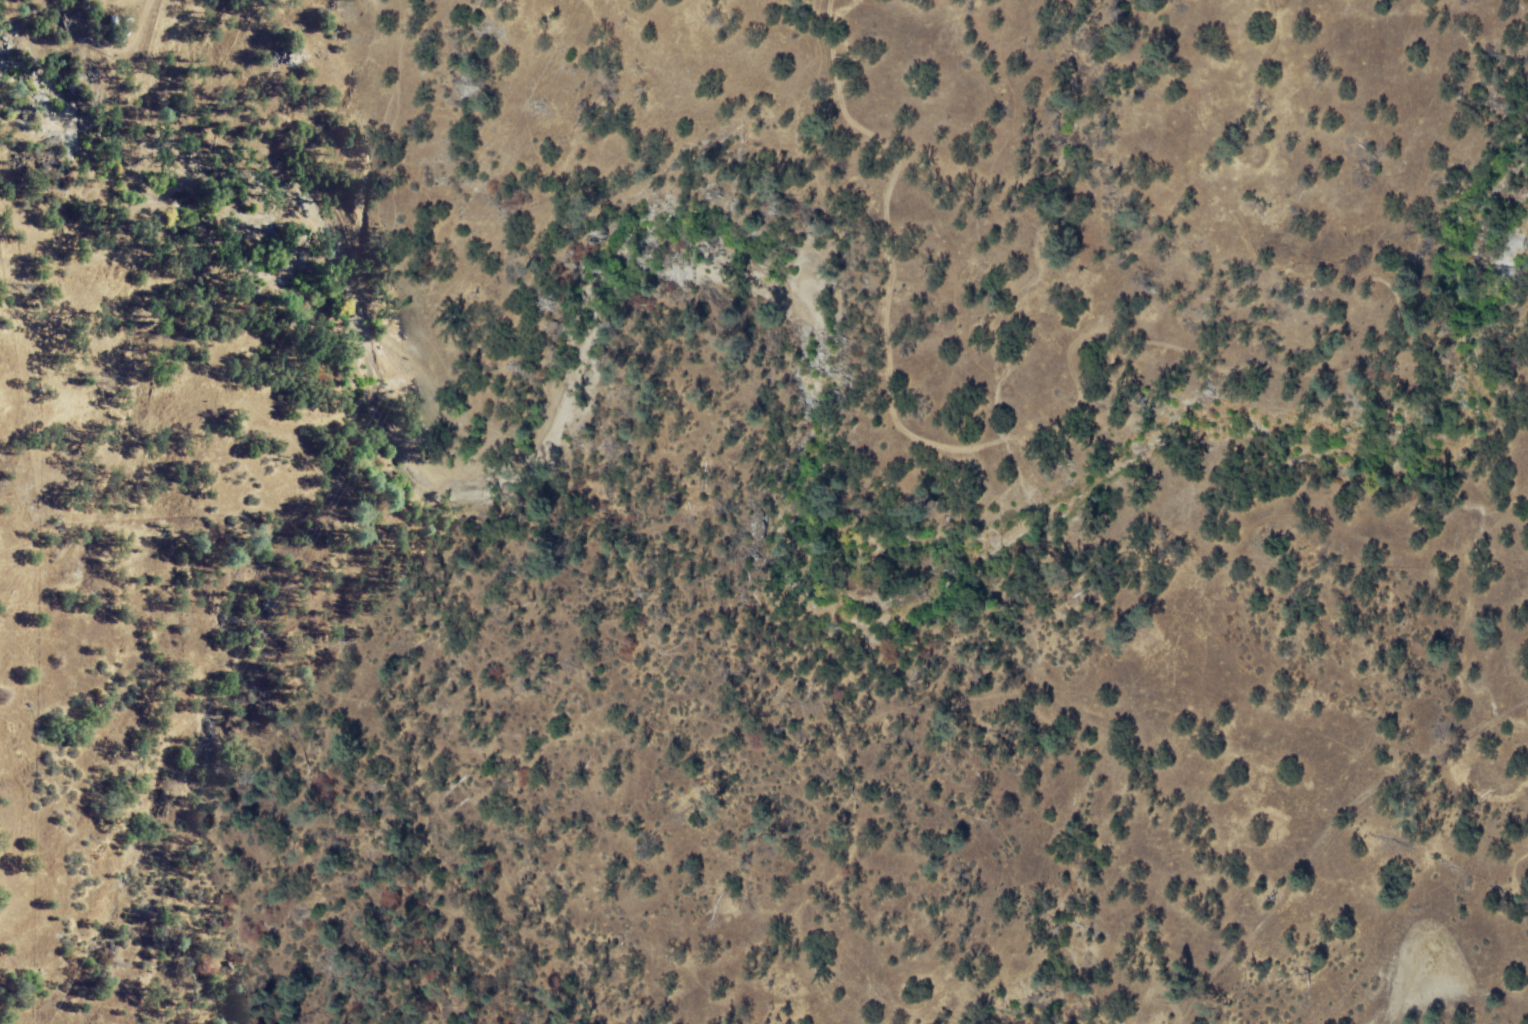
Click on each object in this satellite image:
road: (1321, 835)

